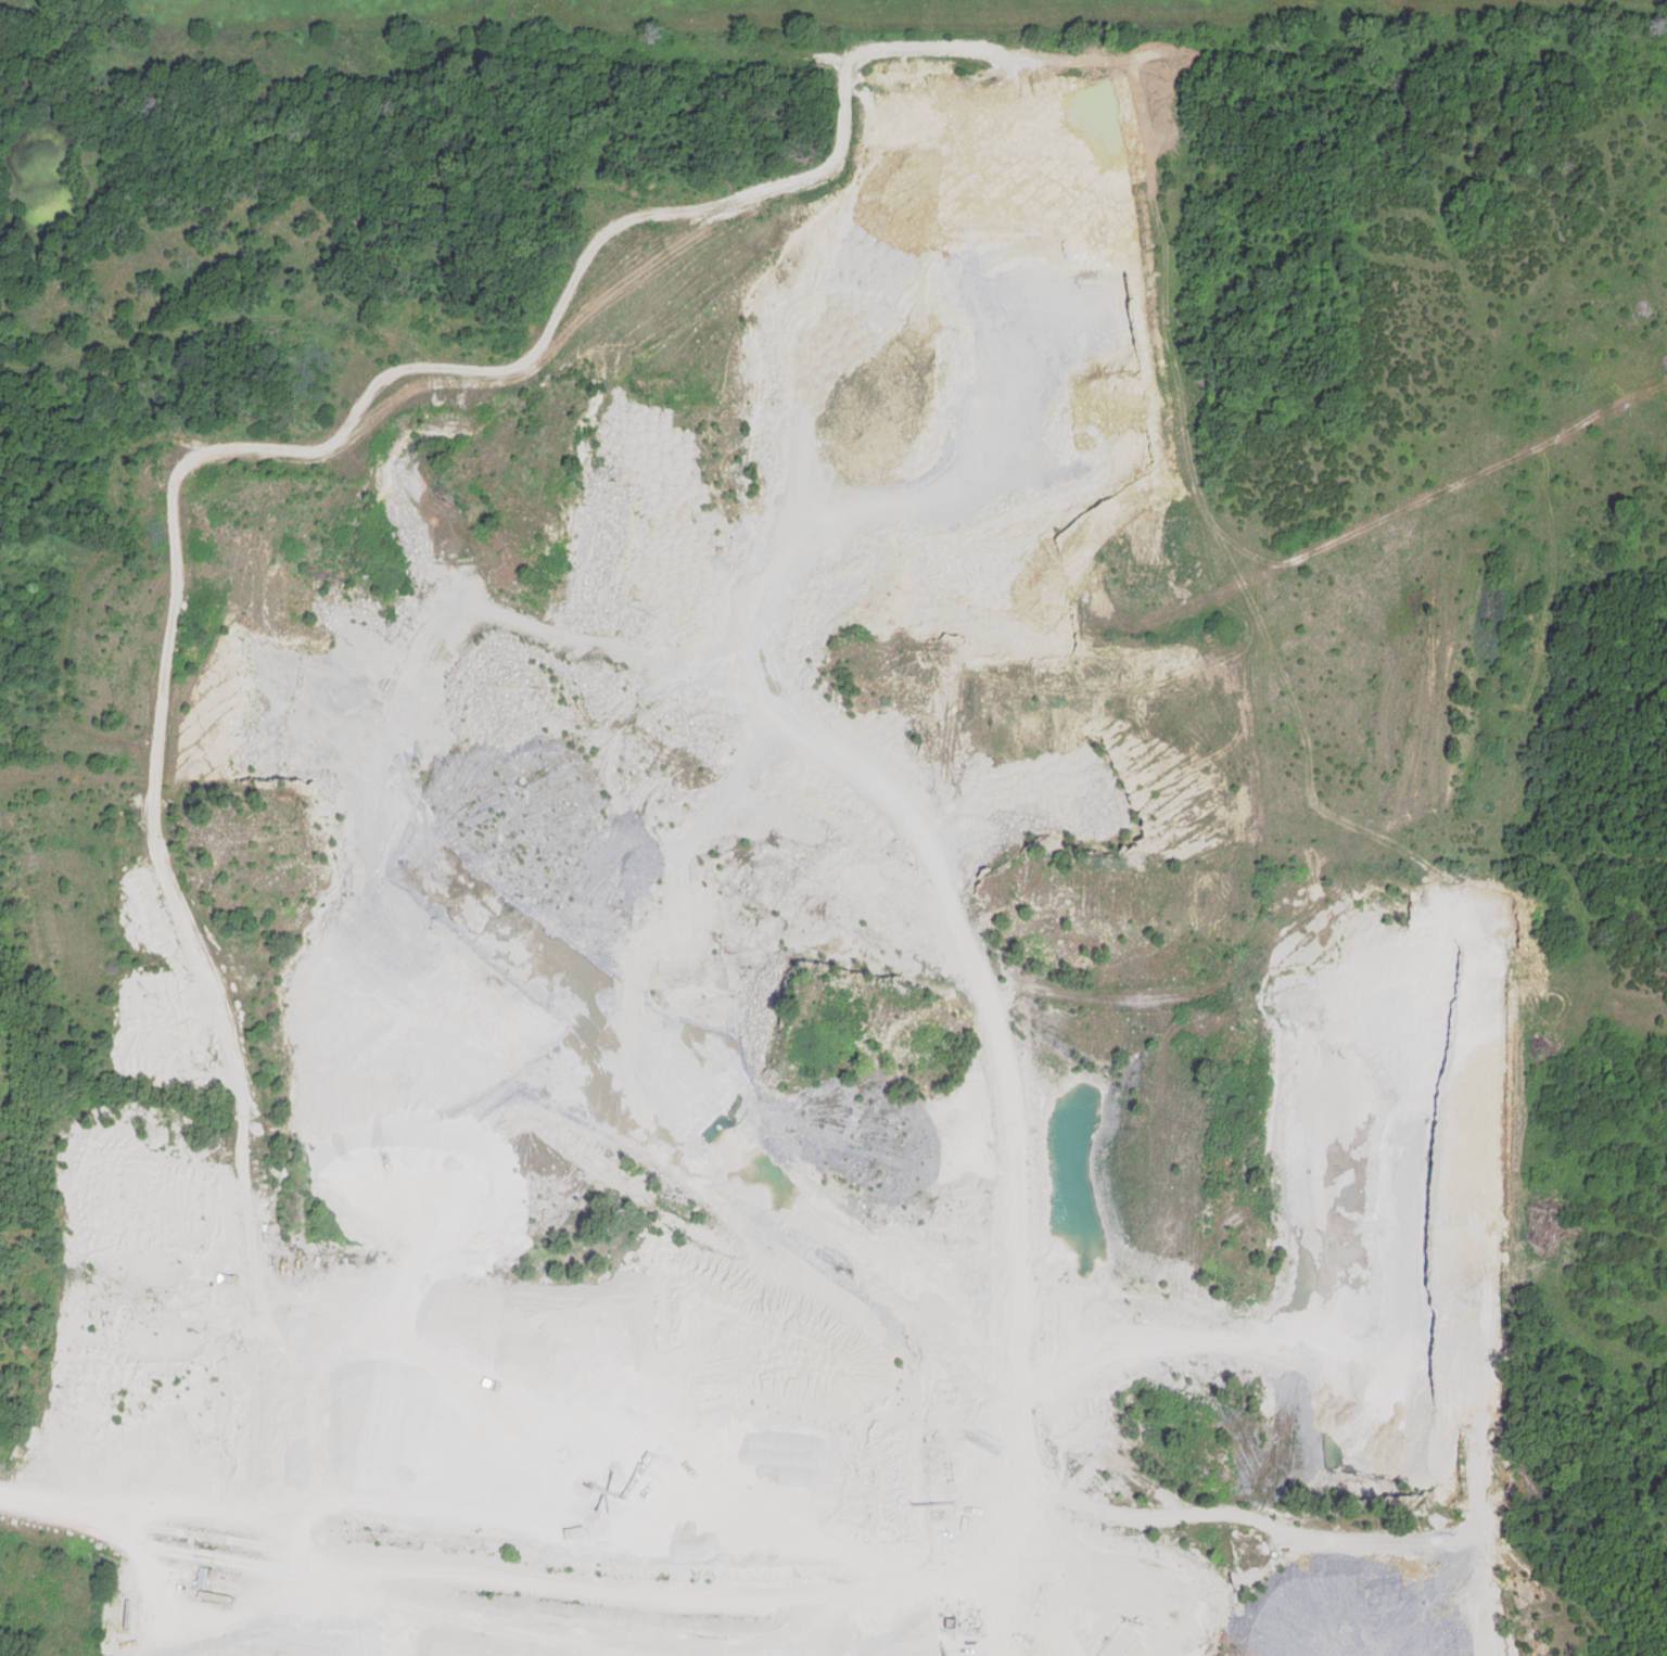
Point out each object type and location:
road: (438, 1509)

